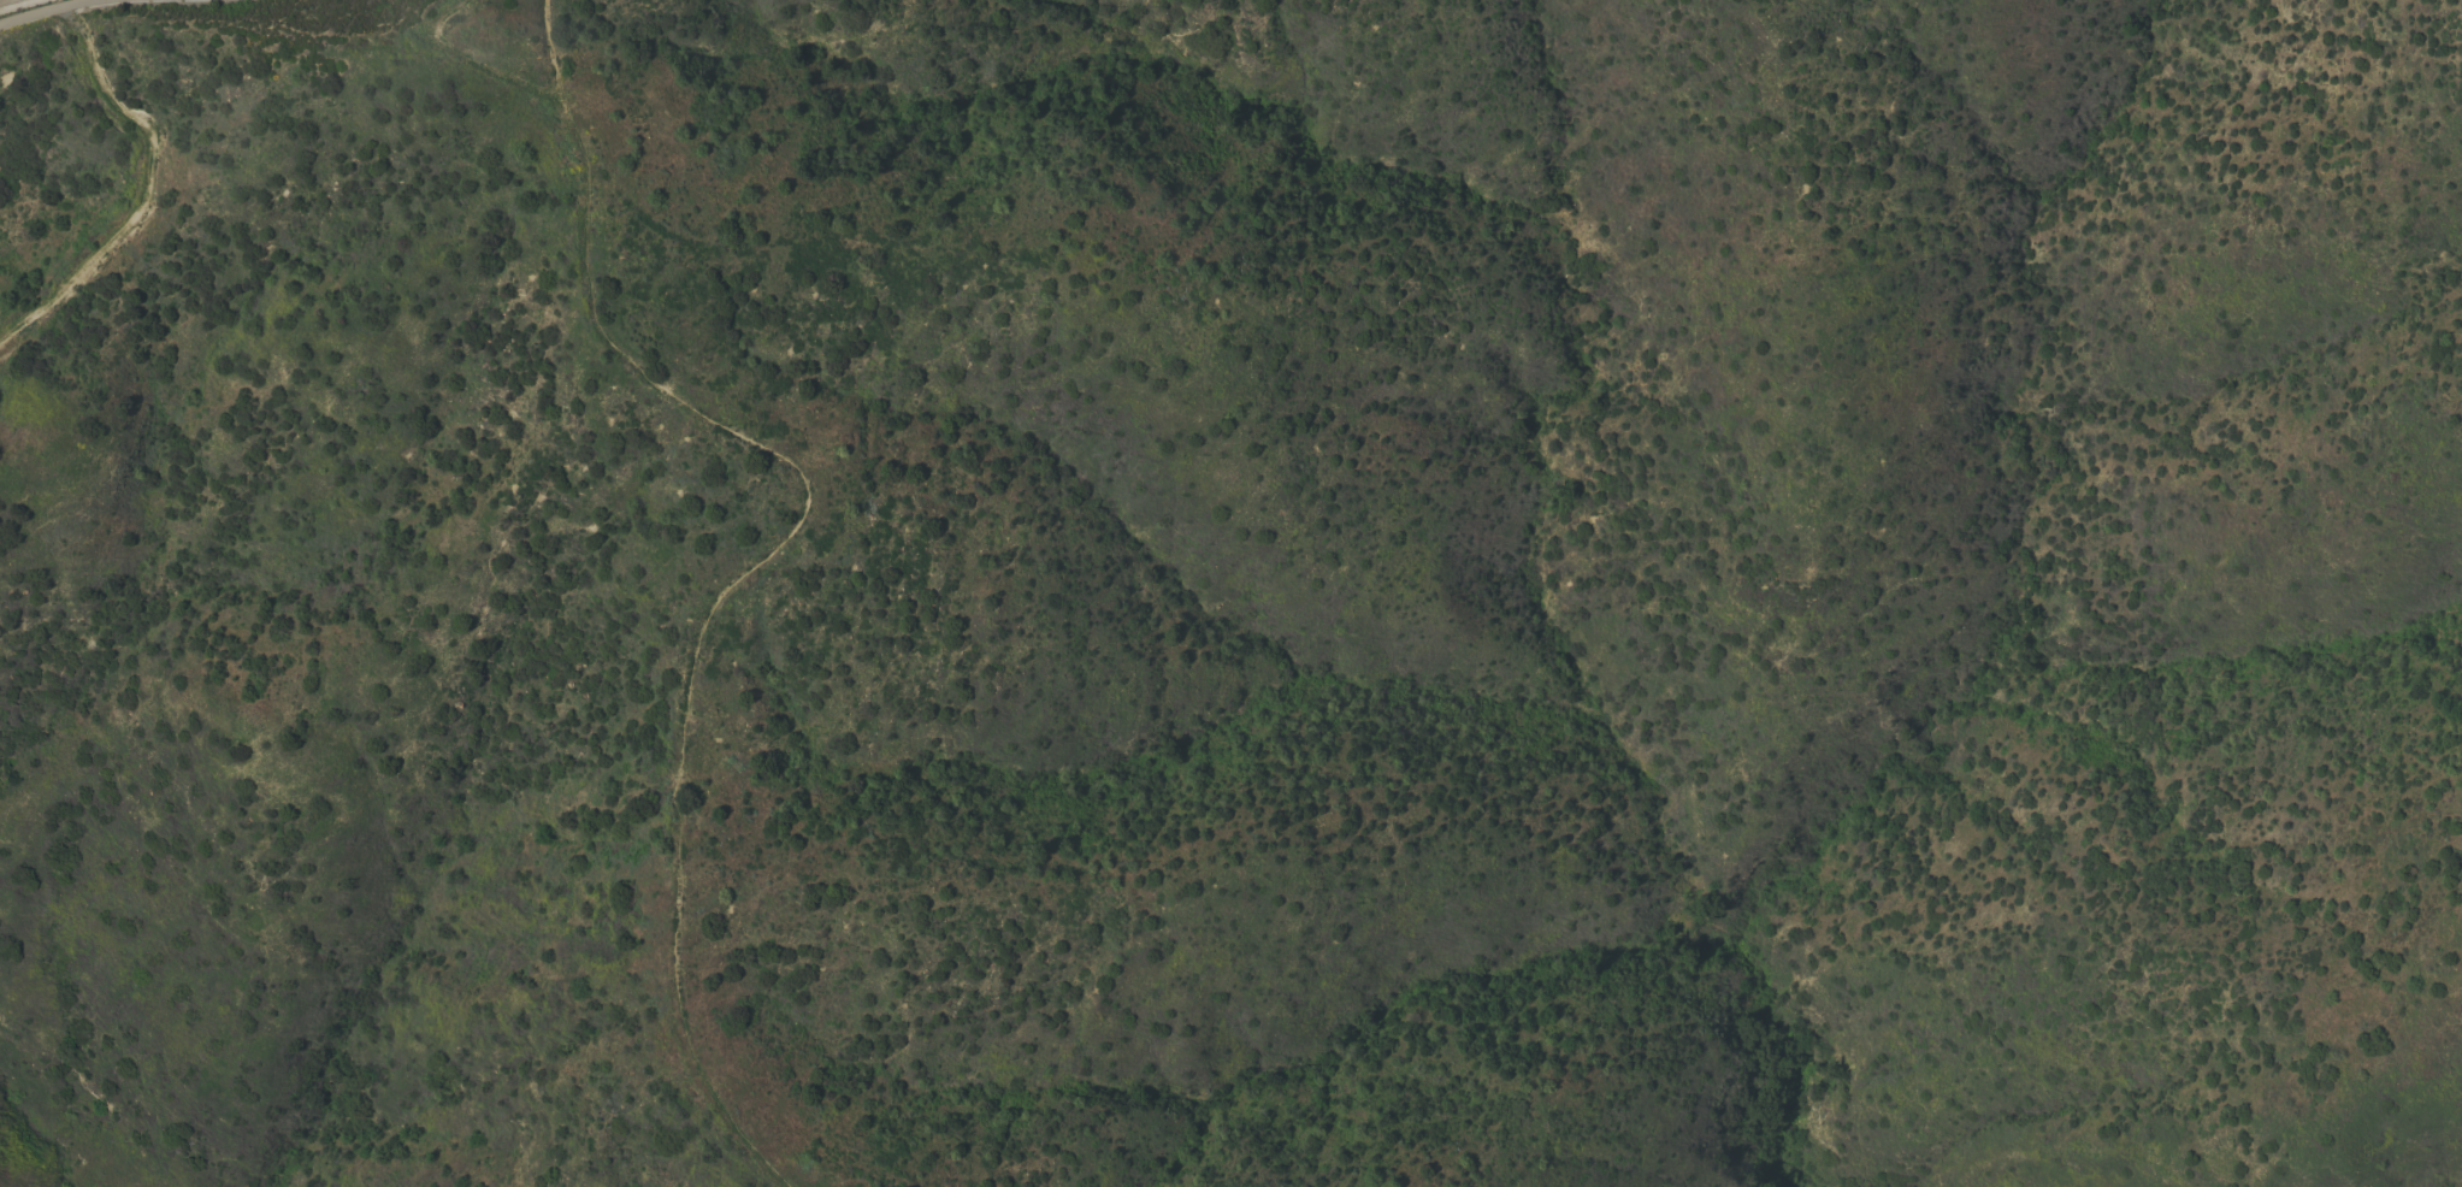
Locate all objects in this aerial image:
landfill: (22, 5)
landfill: (22, 5)
road: (51, 7)
road: (766, 555)

